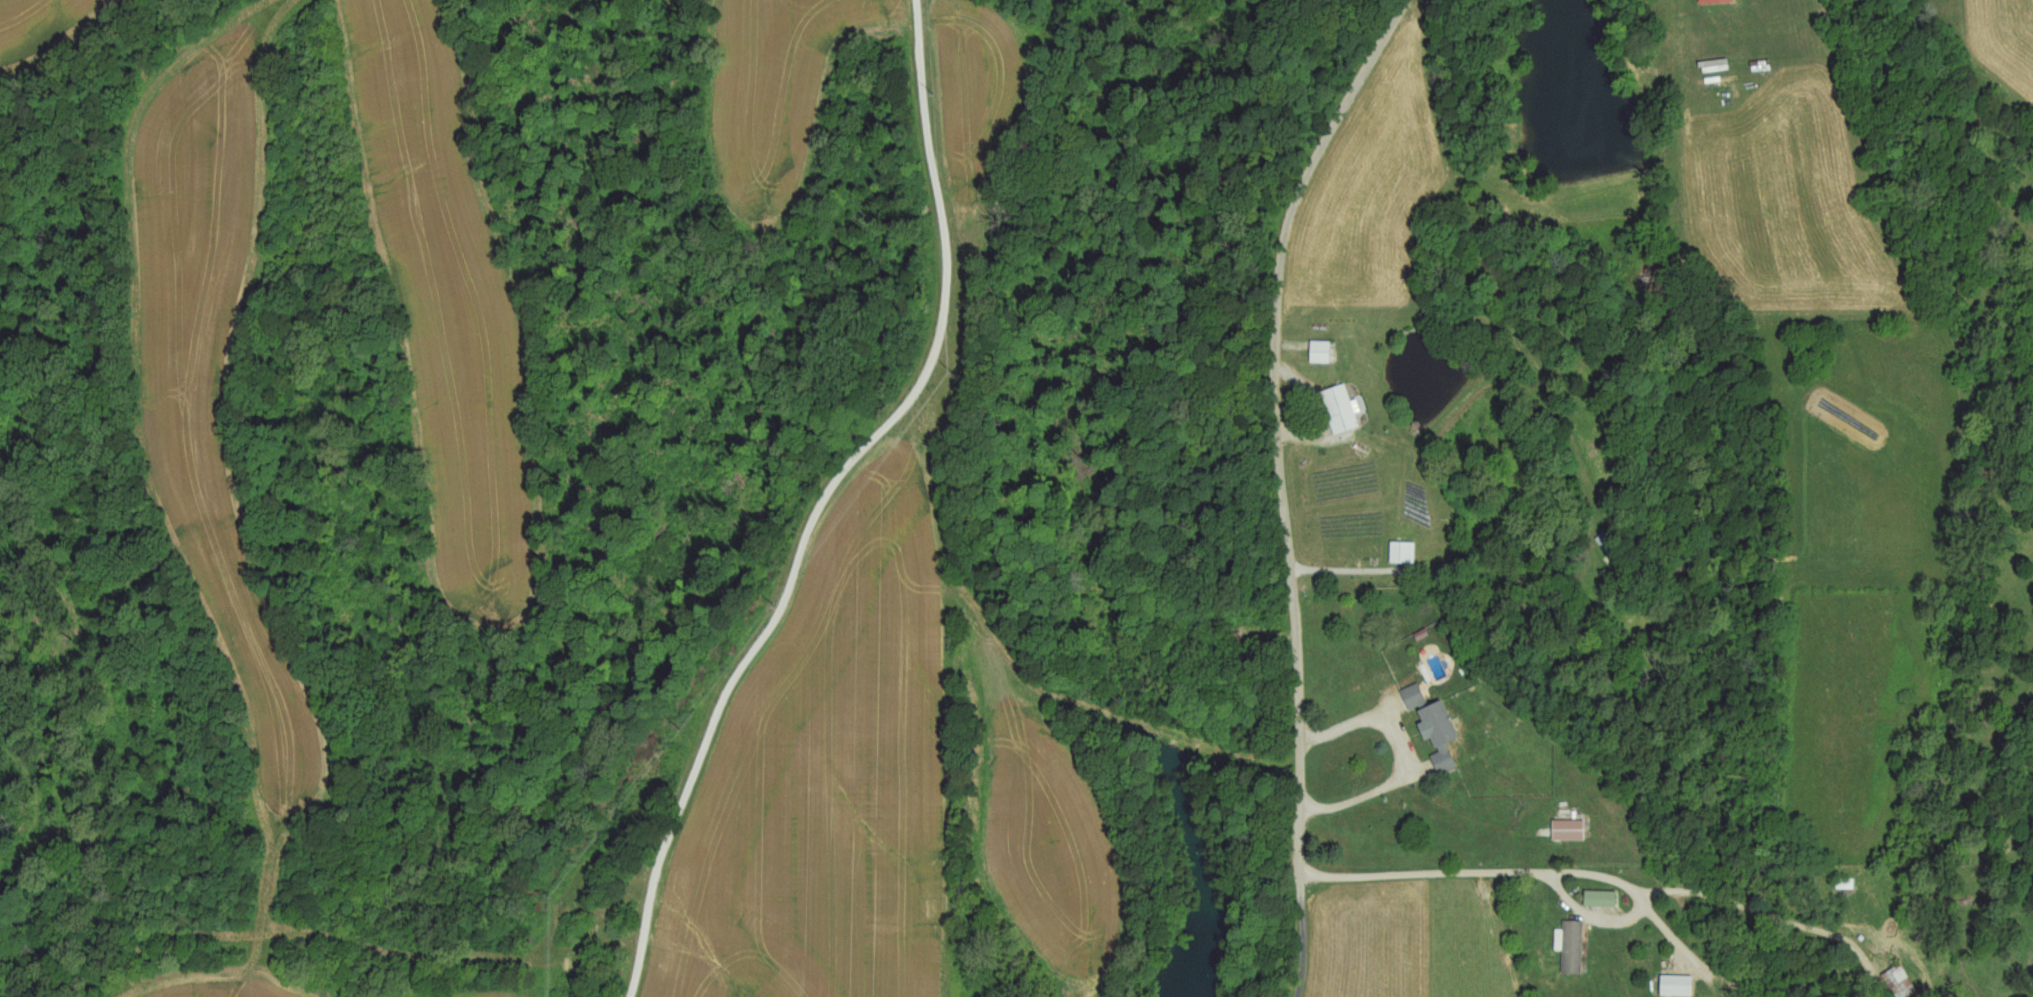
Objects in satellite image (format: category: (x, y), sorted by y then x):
building: (1716, 2)
crop: (41, 28)
crop: (440, 283)
building: (1322, 353)
crop: (211, 372)
building: (1341, 410)
road: (1282, 484)
road: (827, 497)
building: (1610, 545)
building: (1403, 554)
building: (1415, 698)
building: (1441, 736)
road: (1408, 755)
building: (1569, 831)
road: (1540, 874)
building: (1847, 885)
building: (1602, 900)
road: (1674, 938)
building: (1574, 949)
building: (1901, 983)
building: (1678, 987)

